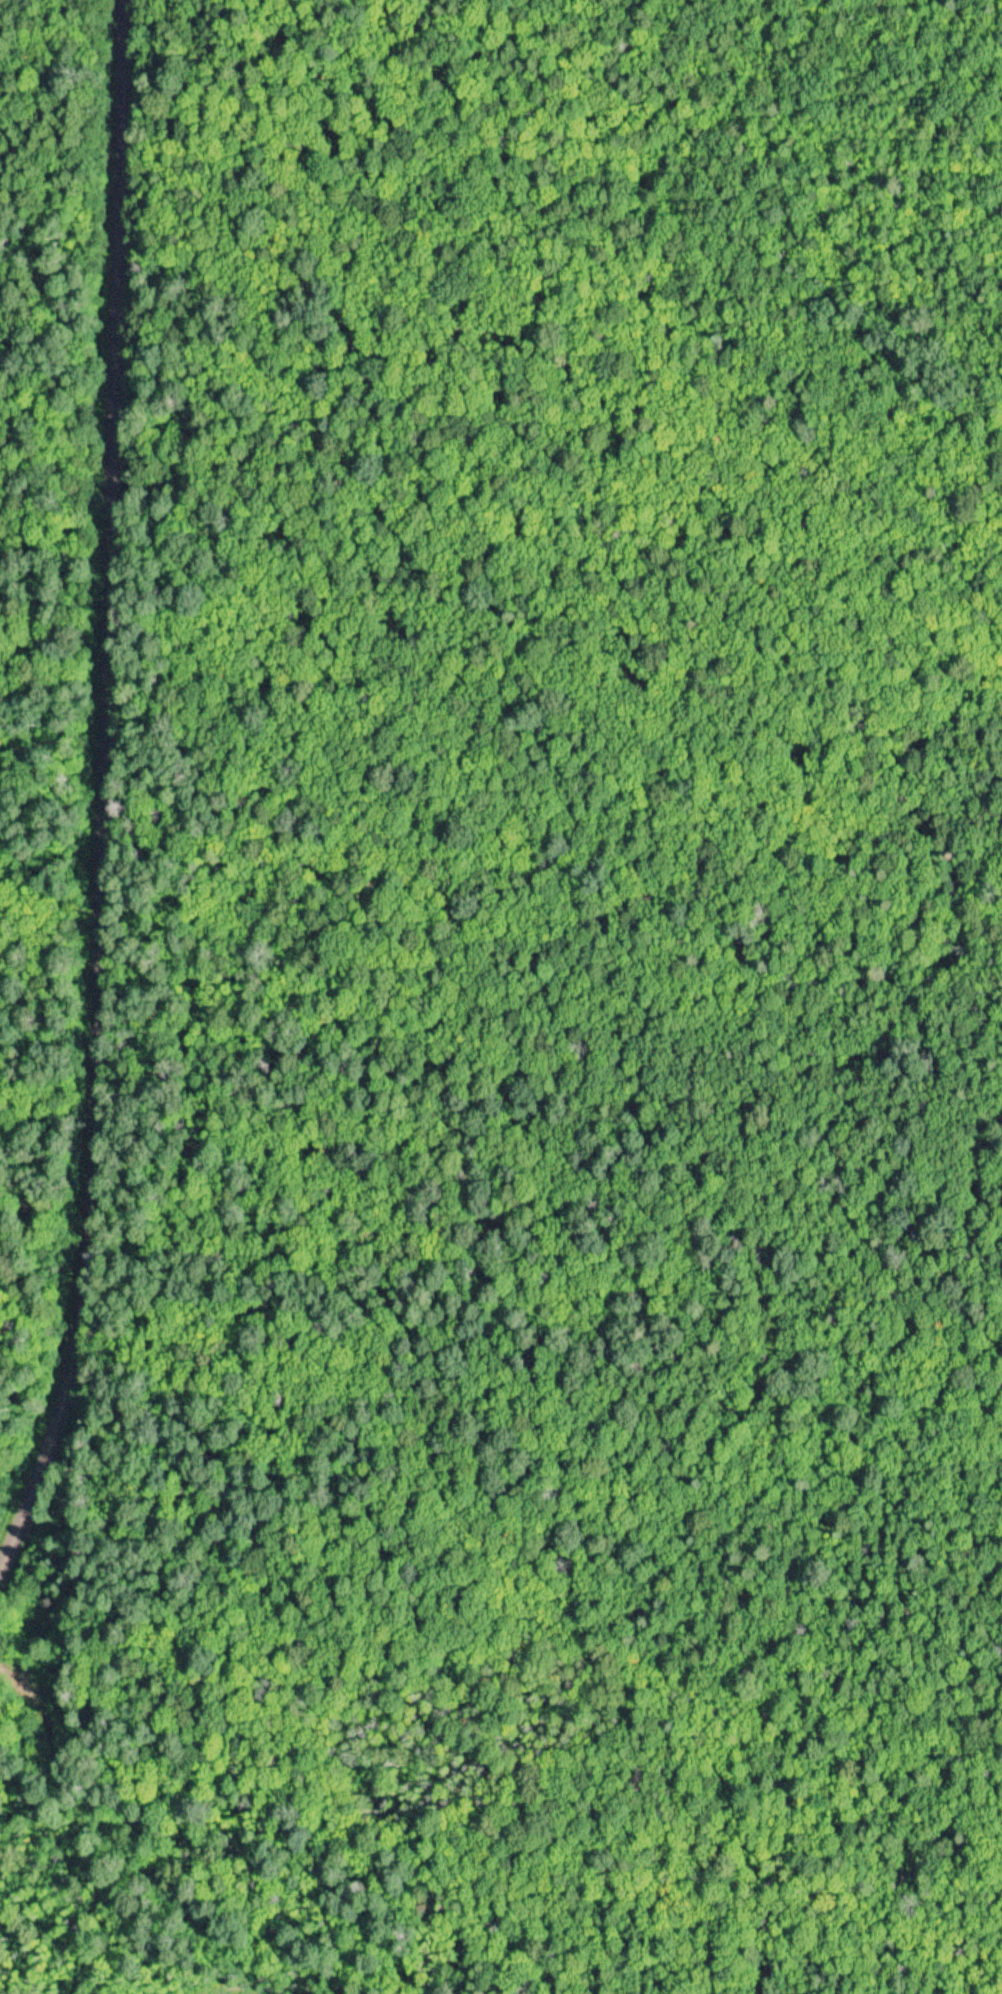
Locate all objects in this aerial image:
road: (96, 729)
road: (24, 1512)
road: (72, 1744)
road: (234, 1984)

